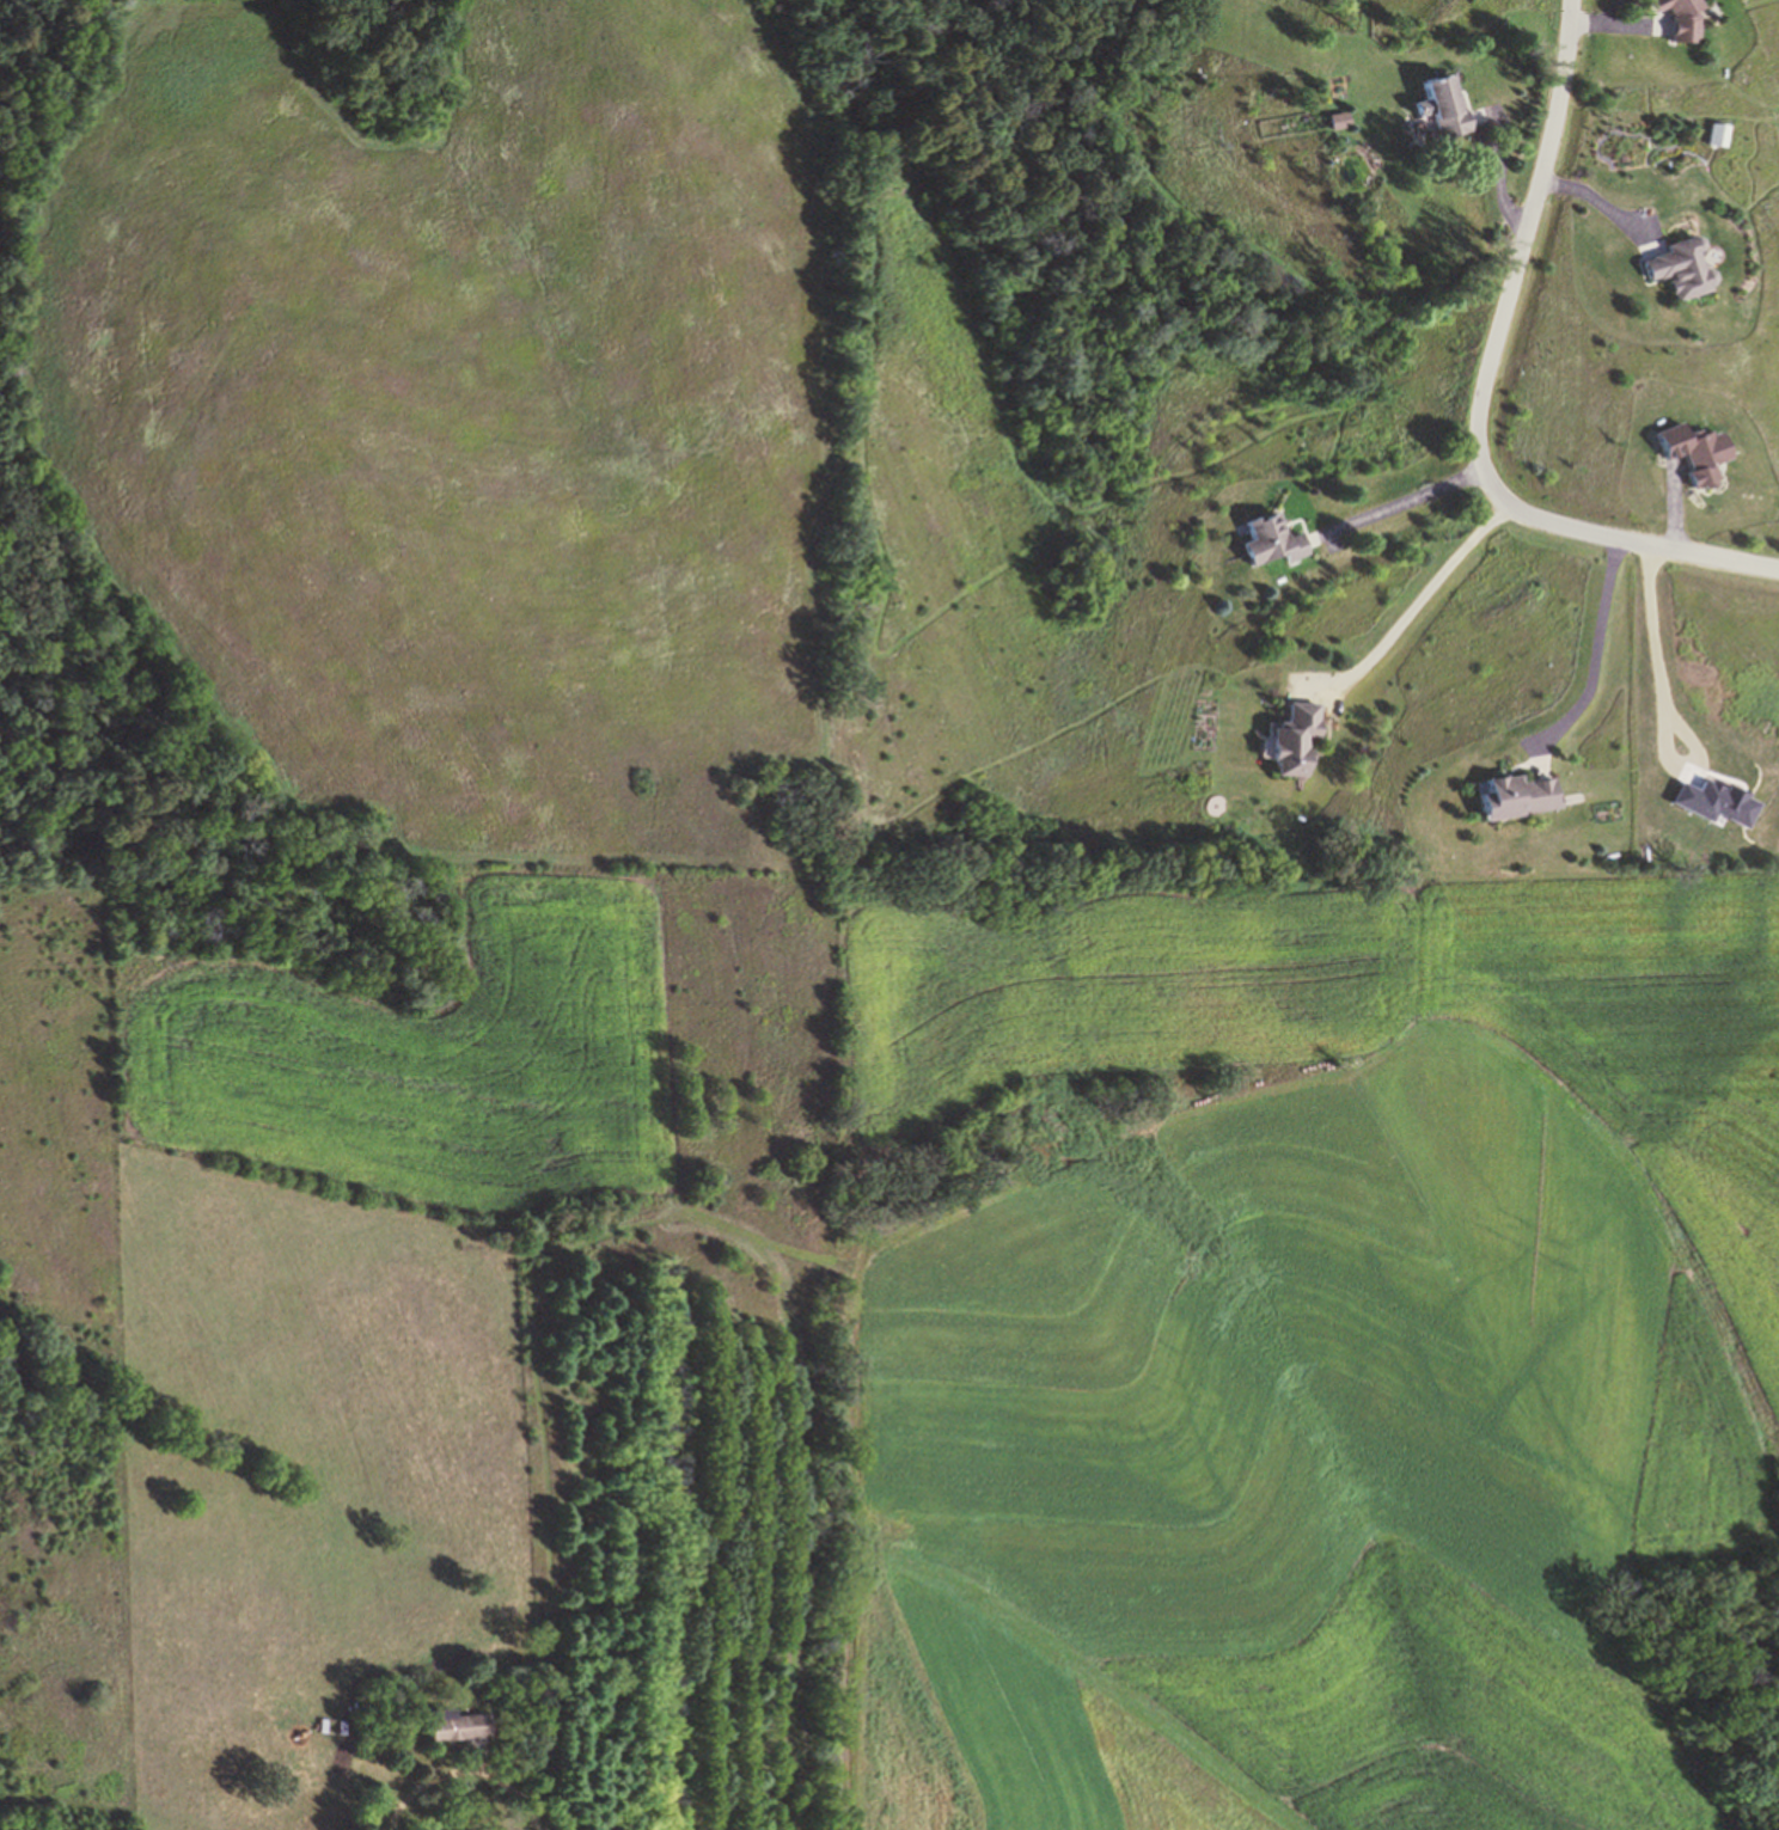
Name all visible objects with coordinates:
building: (1673, 20)
road: (1608, 24)
building: (1441, 115)
building: (1338, 120)
building: (1718, 134)
road: (1502, 177)
road: (1603, 202)
building: (1677, 275)
road: (1481, 391)
building: (1689, 461)
road: (1404, 507)
building: (1271, 546)
road: (1428, 605)
road: (1601, 657)
building: (1308, 732)
building: (1516, 798)
building: (456, 1722)
road: (460, 1770)

